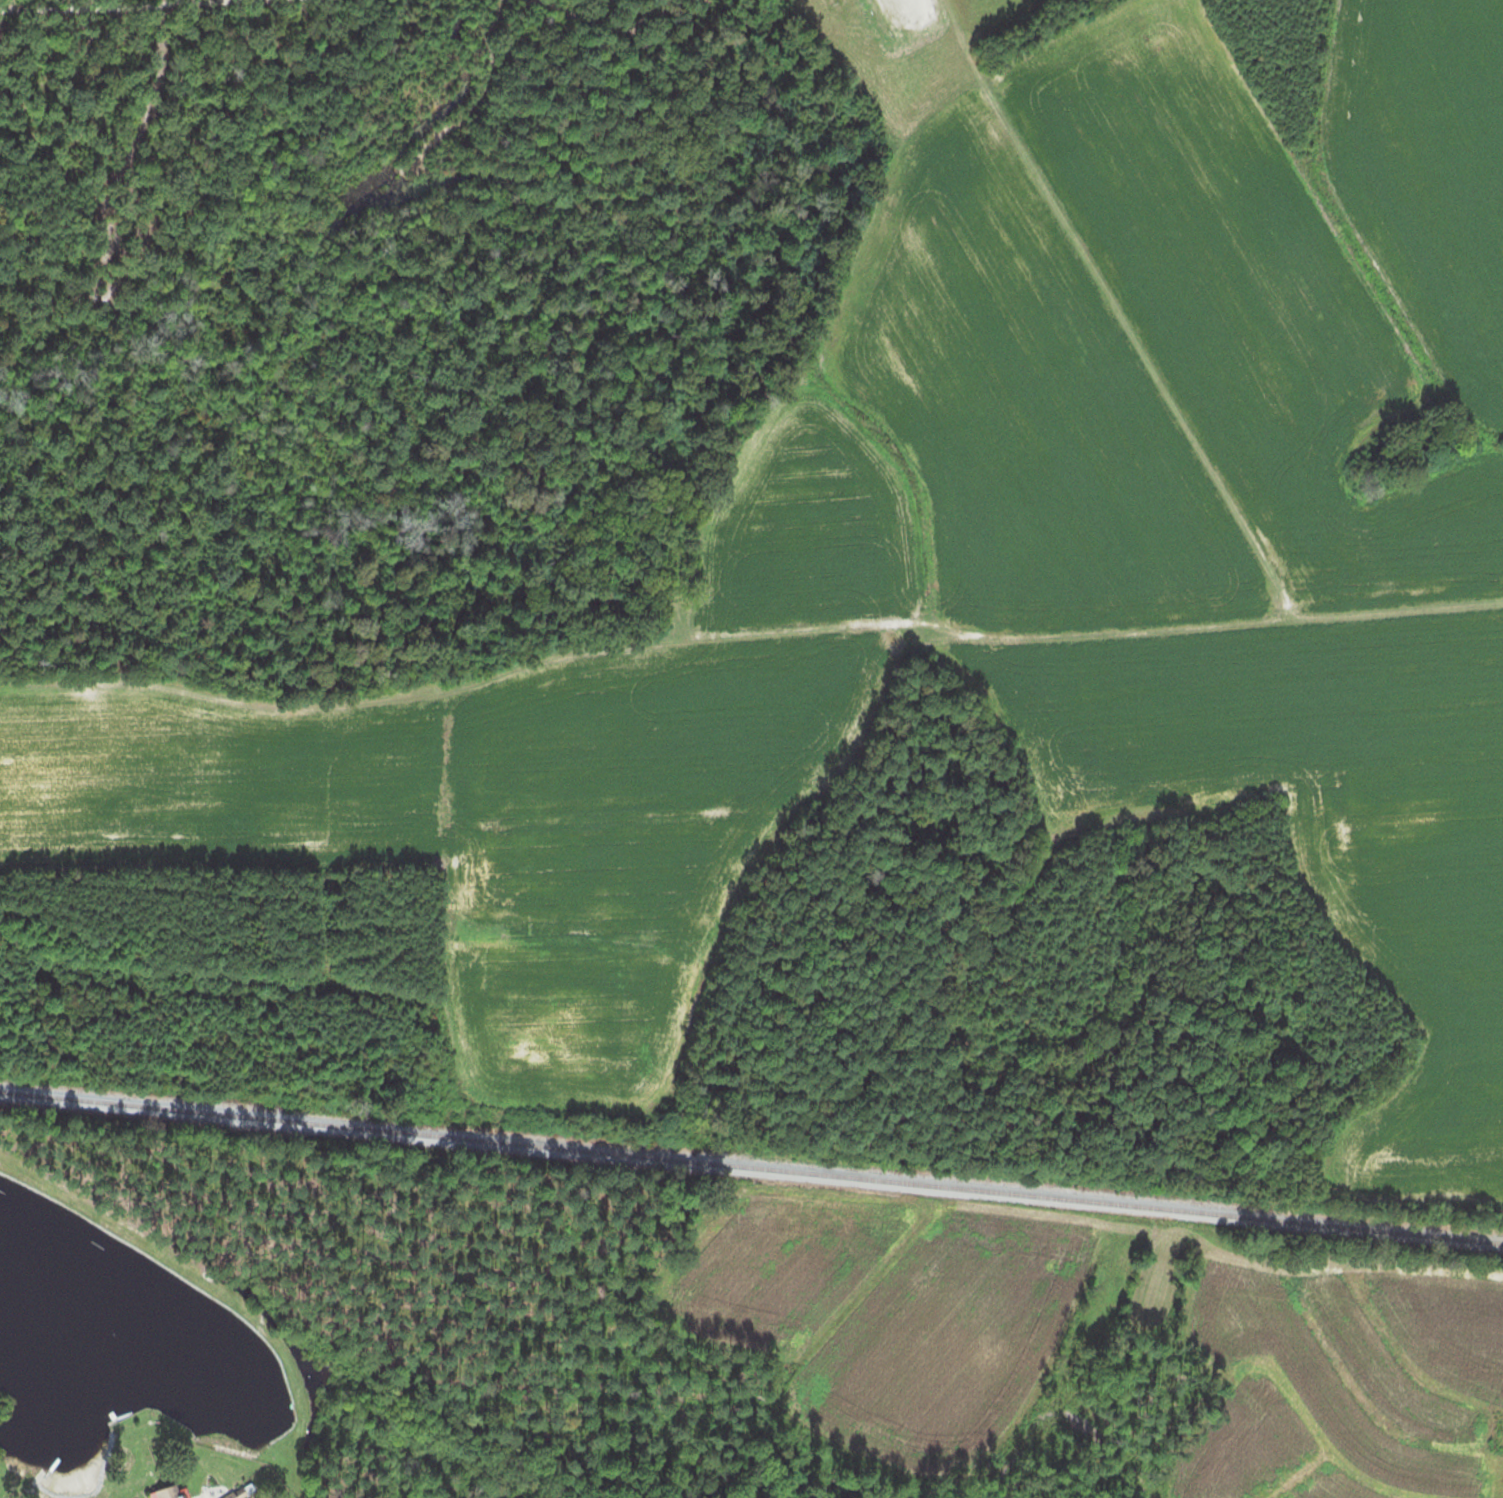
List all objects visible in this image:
railway: (751, 1166)
building: (166, 1492)
building: (192, 1496)

